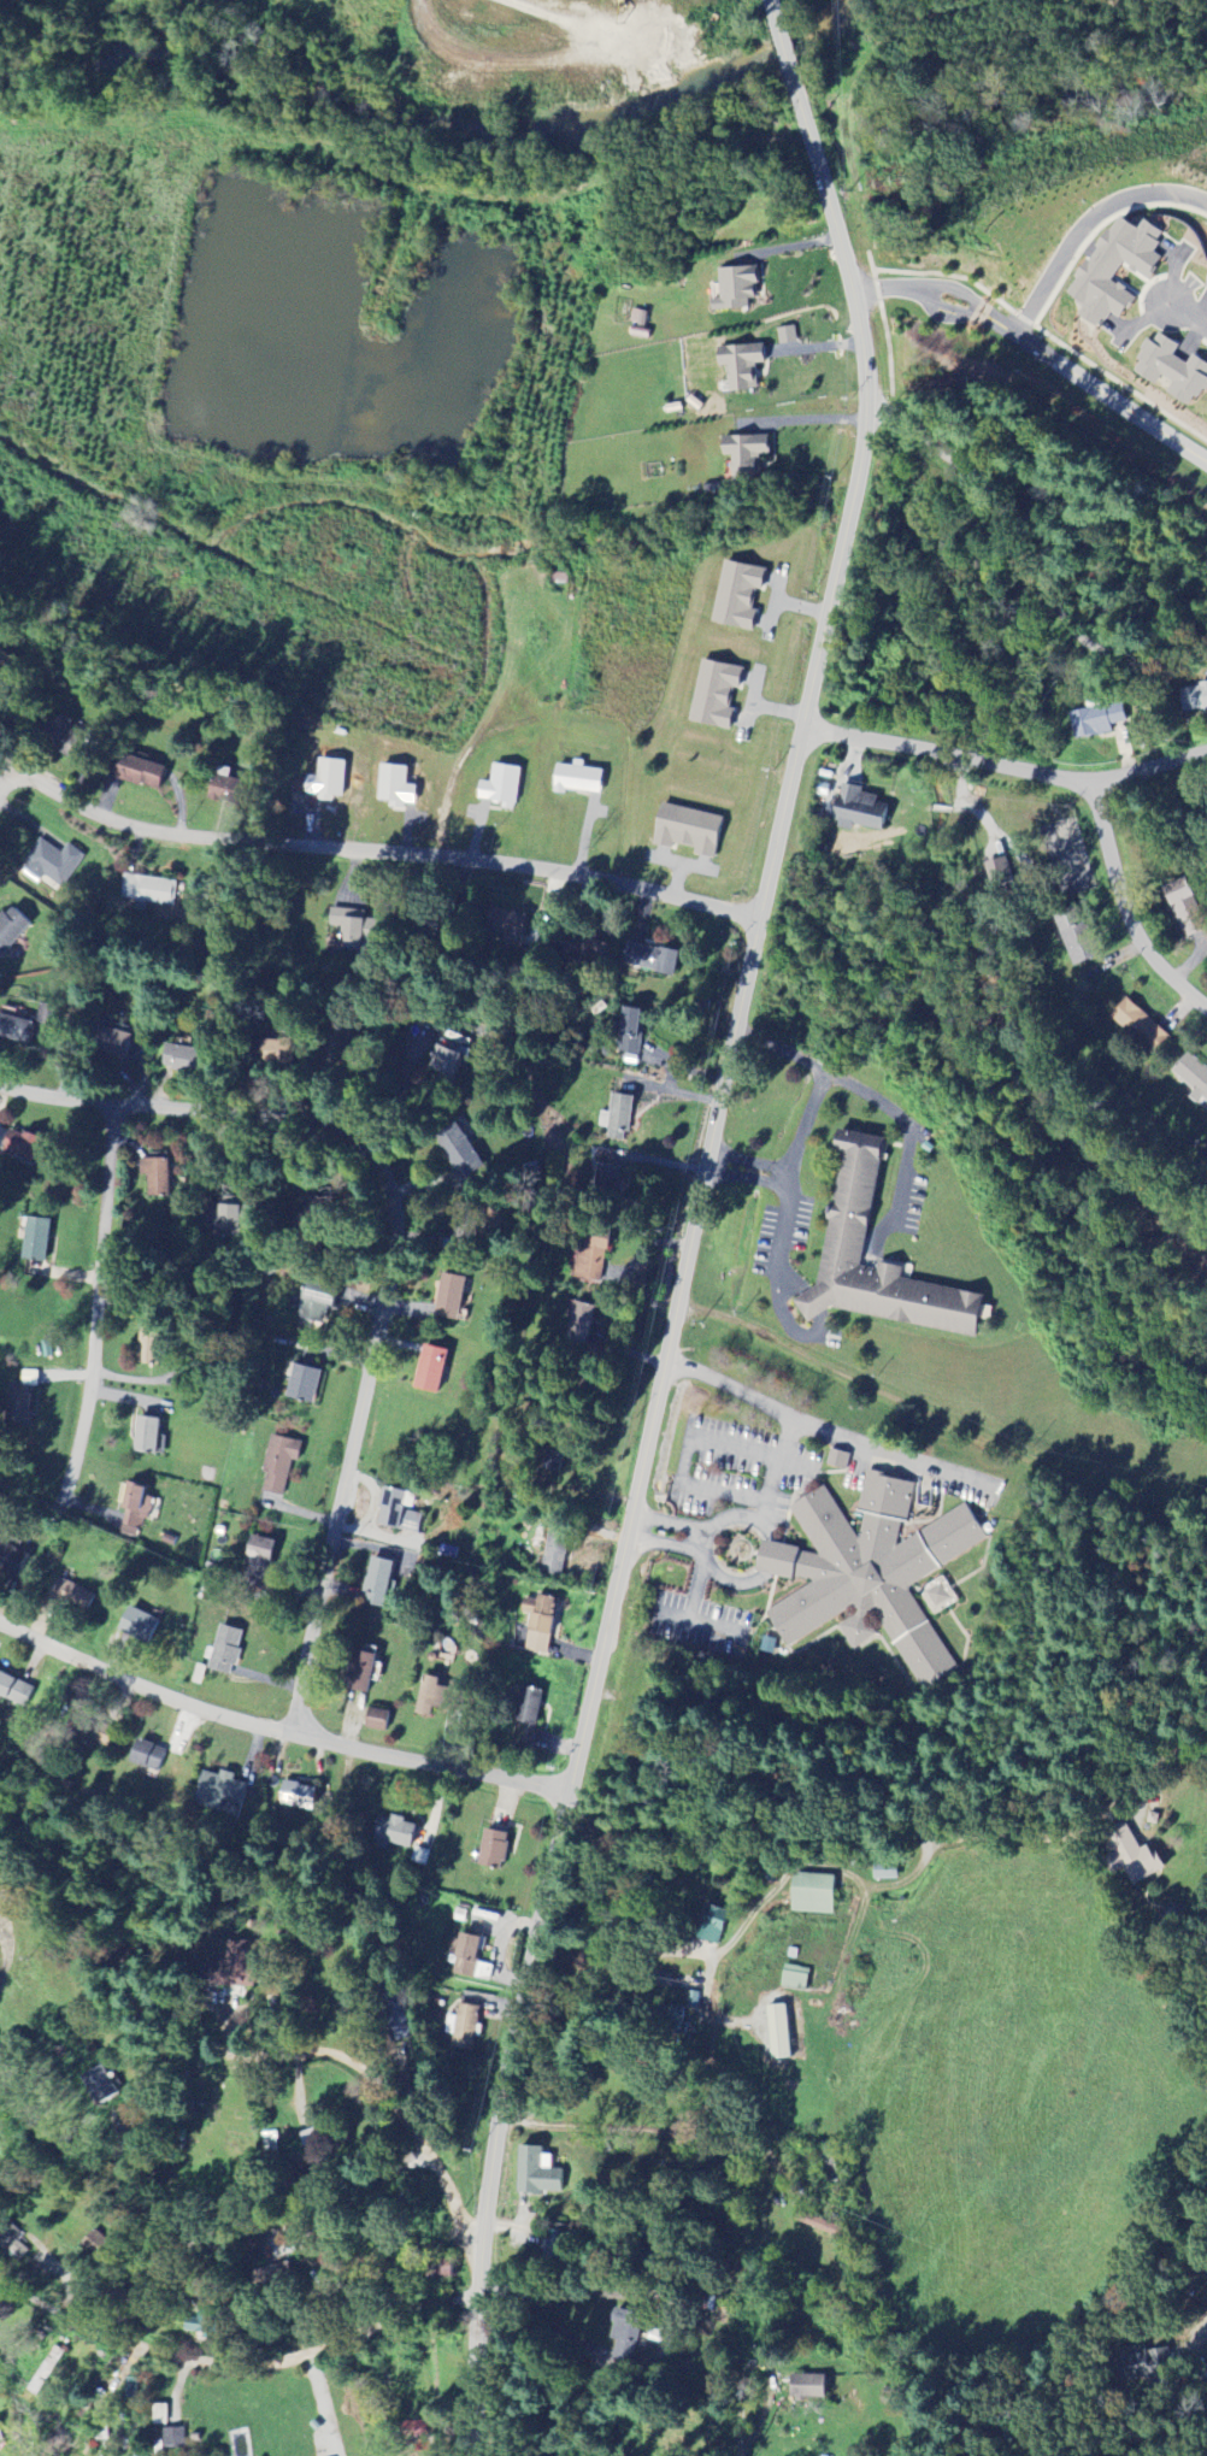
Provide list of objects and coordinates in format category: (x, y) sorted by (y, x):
road: (1081, 223)
building: (1112, 270)
building: (1205, 287)
building: (732, 289)
road: (917, 293)
road: (1189, 317)
road: (993, 326)
building: (784, 336)
building: (738, 366)
building: (1168, 371)
road: (1106, 400)
building: (1206, 422)
building: (742, 457)
road: (1029, 554)
building: (735, 596)
building: (712, 694)
building: (1193, 699)
building: (1097, 722)
road: (1005, 766)
building: (142, 773)
building: (324, 778)
building: (575, 778)
building: (497, 787)
building: (393, 788)
road: (10, 789)
building: (854, 809)
building: (684, 830)
road: (373, 854)
building: (53, 864)
building: (149, 891)
building: (1183, 908)
road: (1125, 909)
building: (510, 926)
building: (13, 930)
building: (347, 930)
building: (1072, 937)
building: (579, 950)
building: (648, 959)
building: (29, 1026)
building: (1137, 1026)
building: (628, 1031)
building: (122, 1046)
building: (281, 1054)
building: (179, 1059)
building: (447, 1059)
building: (1190, 1077)
road: (877, 1101)
building: (614, 1119)
building: (31, 1149)
building: (457, 1152)
road: (796, 1161)
building: (158, 1177)
road: (791, 1177)
building: (605, 1178)
building: (852, 1206)
road: (693, 1224)
road: (779, 1239)
building: (40, 1241)
road: (393, 1260)
building: (589, 1260)
road: (793, 1273)
road: (159, 1290)
building: (447, 1297)
road: (812, 1302)
building: (312, 1304)
road: (96, 1313)
building: (577, 1325)
building: (428, 1370)
building: (30, 1379)
building: (299, 1384)
building: (23, 1410)
road: (940, 1417)
road: (829, 1430)
road: (688, 1435)
building: (151, 1437)
building: (837, 1457)
building: (276, 1463)
building: (550, 1463)
road: (776, 1470)
building: (137, 1509)
building: (394, 1513)
road: (671, 1523)
road: (705, 1541)
road: (665, 1547)
building: (550, 1557)
road: (772, 1557)
building: (14, 1561)
building: (254, 1562)
building: (867, 1569)
building: (376, 1583)
road: (695, 1586)
building: (936, 1594)
building: (75, 1597)
building: (134, 1624)
building: (535, 1624)
road: (699, 1625)
building: (767, 1644)
building: (223, 1649)
building: (358, 1672)
building: (17, 1691)
building: (428, 1697)
building: (526, 1706)
building: (373, 1719)
building: (92, 1734)
road: (276, 1734)
building: (145, 1755)
building: (214, 1790)
building: (294, 1796)
building: (393, 1832)
road: (900, 1833)
building: (490, 1848)
building: (1129, 1856)
building: (882, 1873)
building: (808, 1895)
building: (711, 1926)
building: (225, 1966)
road: (2, 1972)
building: (793, 1978)
building: (673, 2021)
building: (395, 2022)
building: (465, 2026)
building: (775, 2032)
road: (372, 2079)
building: (96, 2085)
road: (572, 2102)
road: (635, 2132)
building: (310, 2137)
building: (267, 2144)
building: (535, 2173)
road: (195, 2227)
road: (419, 2240)
building: (10, 2242)
building: (435, 2269)
building: (270, 2277)
road: (554, 2295)
road: (1200, 2337)
building: (618, 2343)
building: (1141, 2364)
road: (234, 2368)
building: (803, 2386)
road: (735, 2402)
building: (159, 2415)
building: (102, 2431)
building: (172, 2439)

